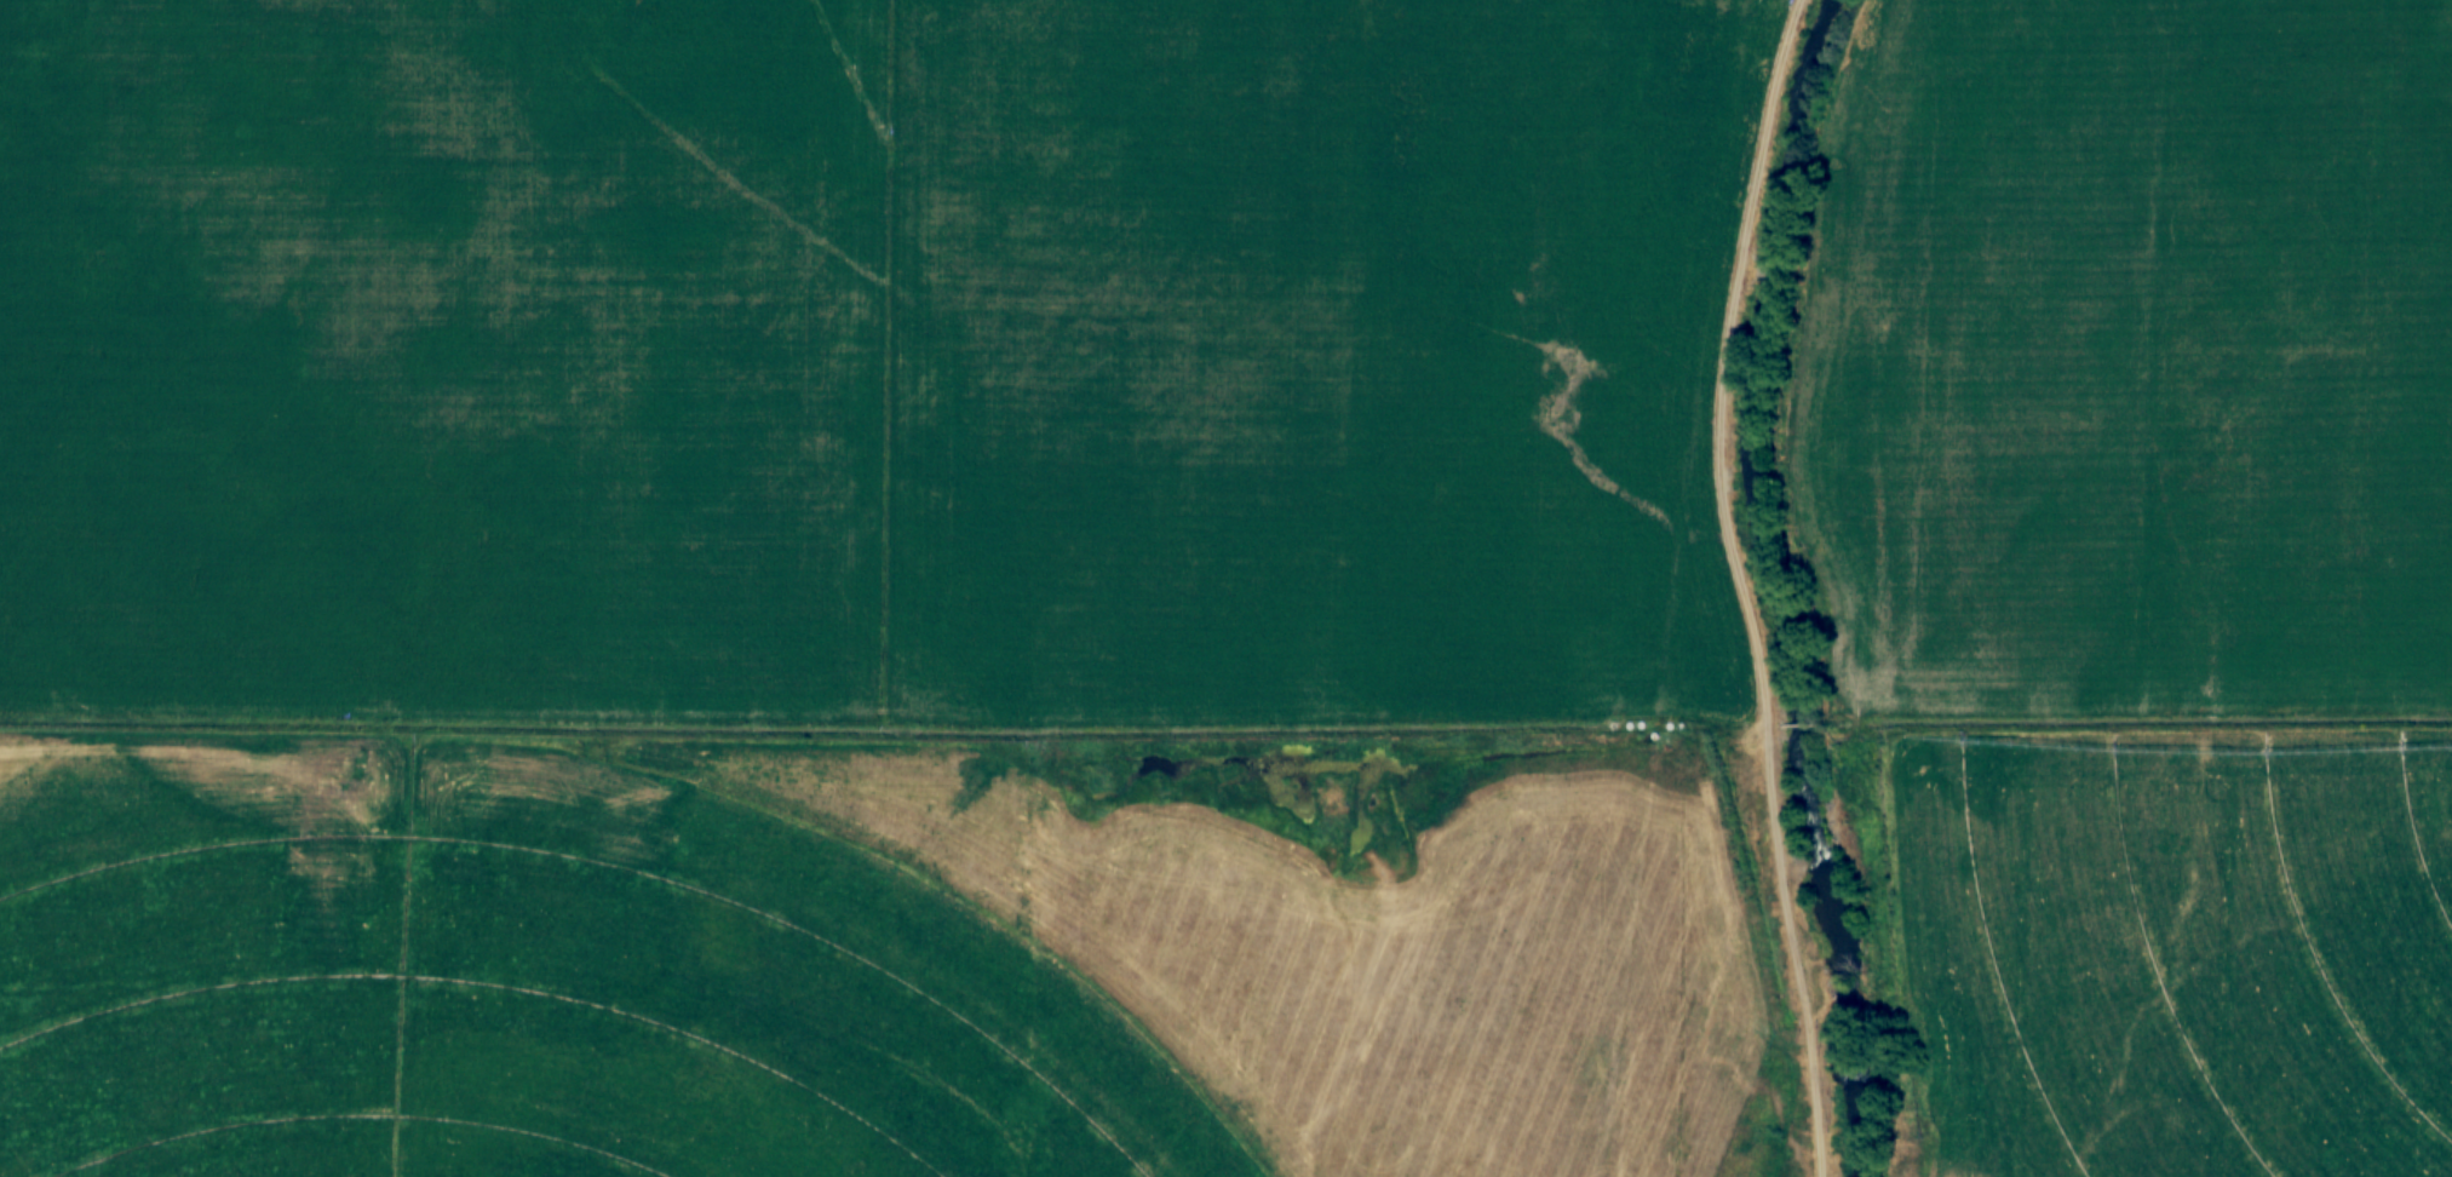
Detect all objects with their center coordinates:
river: (1774, 587)
crop: (1351, 930)
crop: (526, 984)

